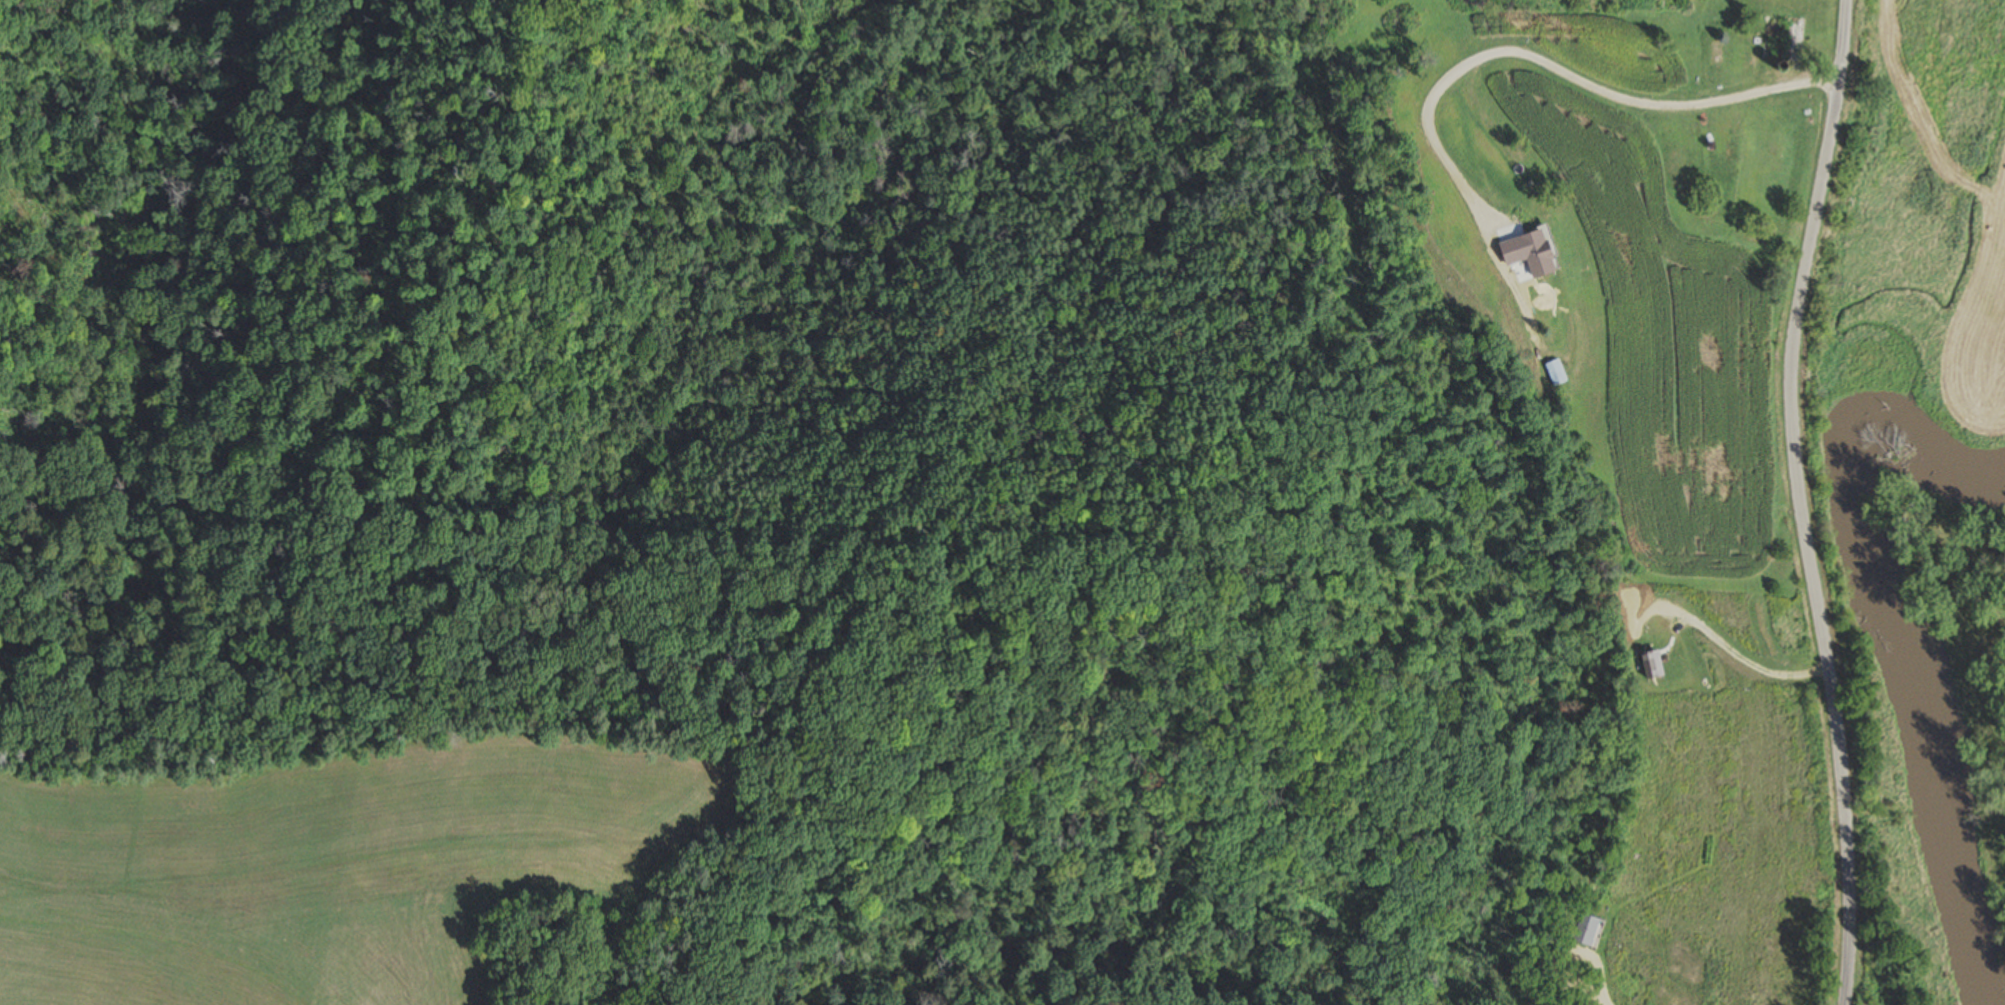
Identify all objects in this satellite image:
building: (1780, 39)
building: (1770, 114)
building: (1535, 300)
building: (1554, 374)
road: (1796, 502)
river: (1877, 575)
road: (1597, 984)

